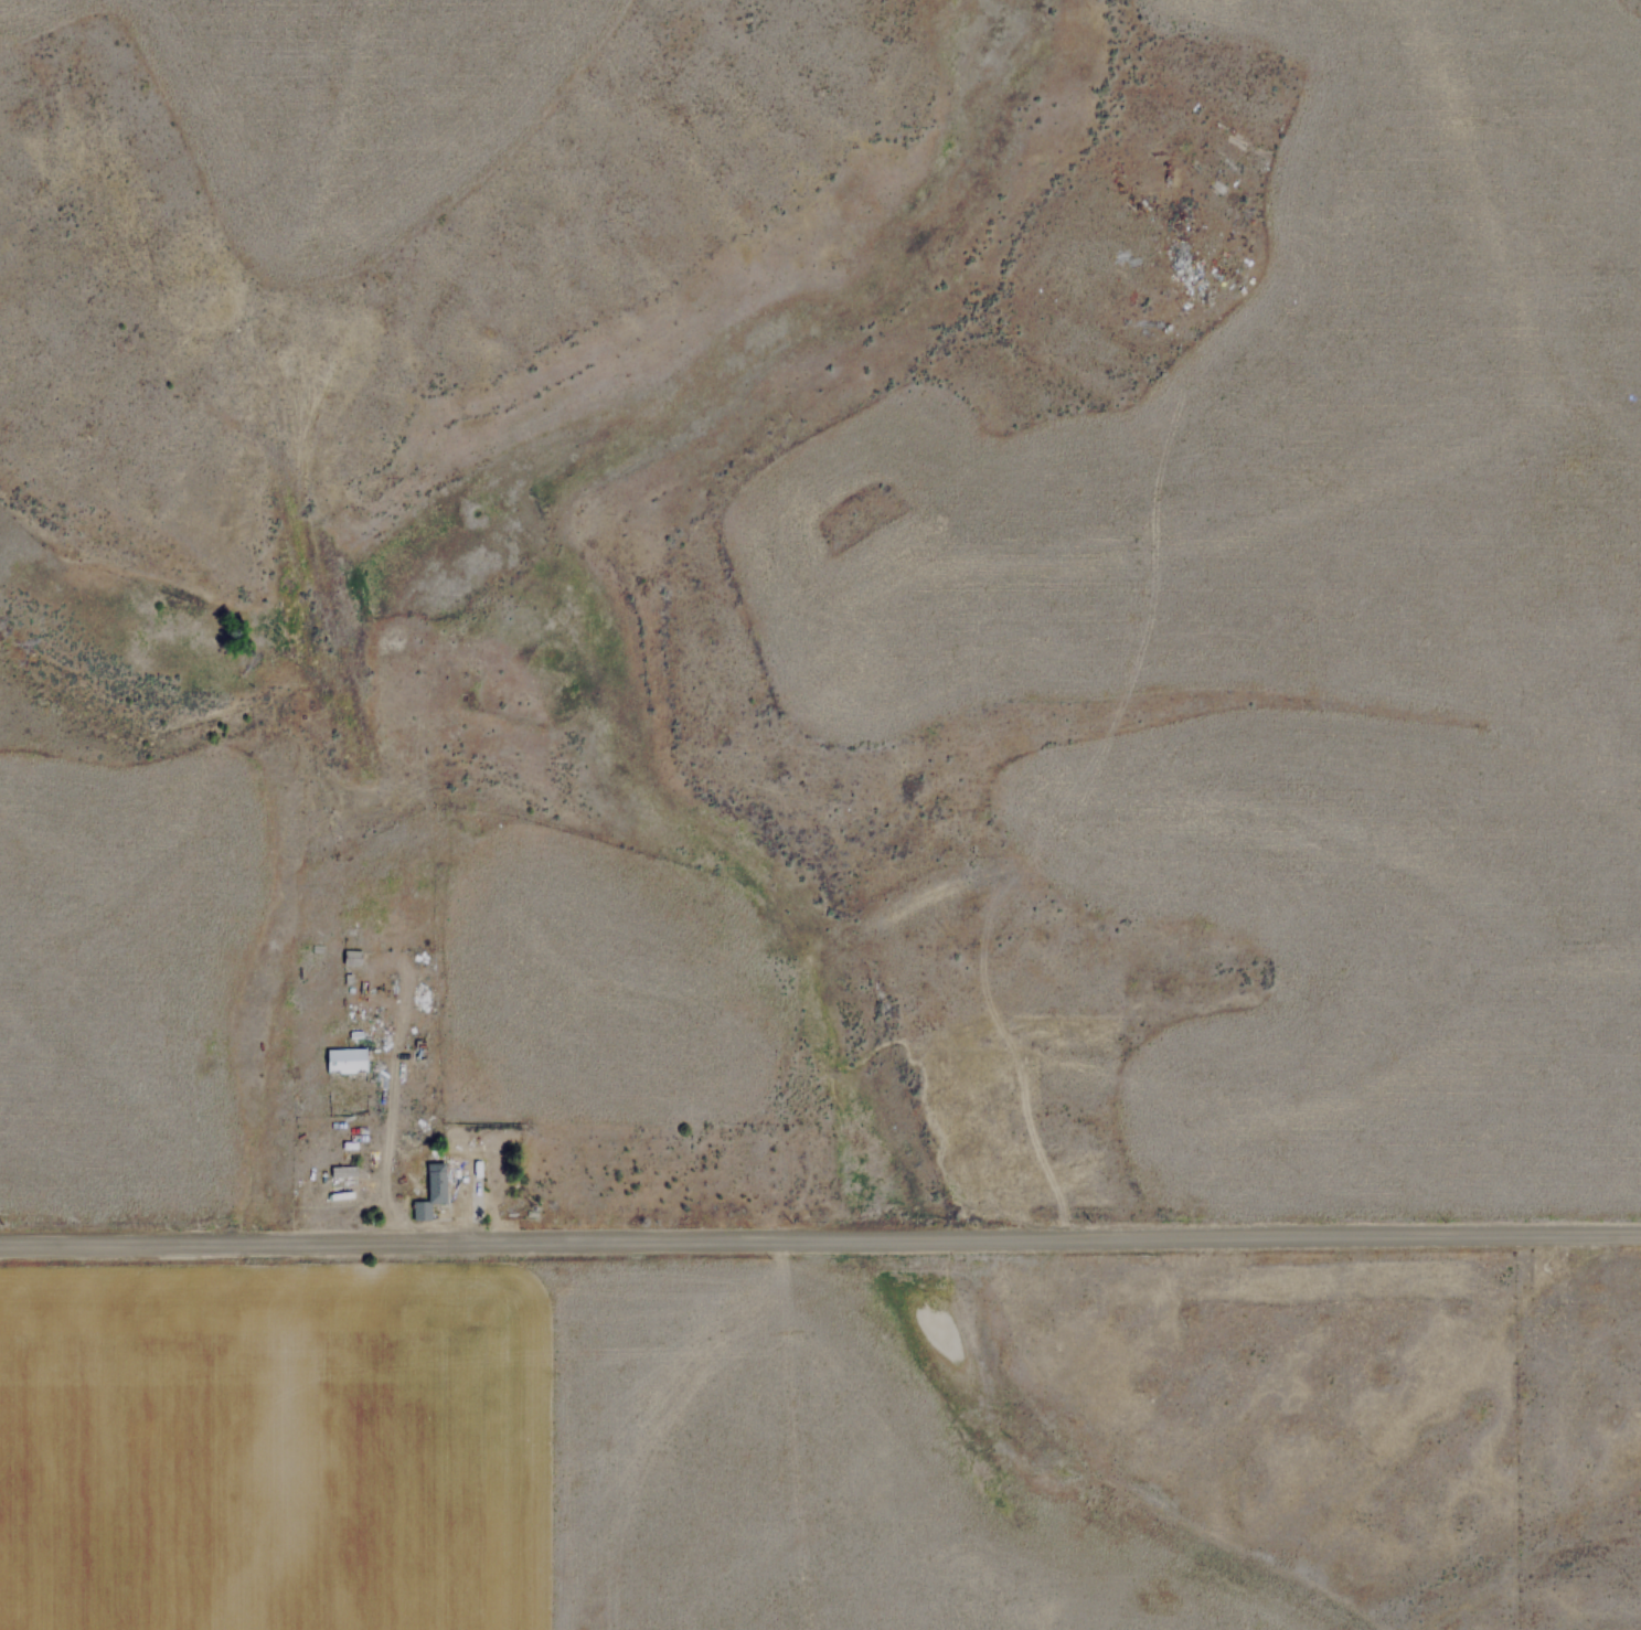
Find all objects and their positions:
dam: (328, 627)
building: (353, 962)
building: (347, 1063)
building: (344, 1174)
building: (431, 1193)
road: (820, 1242)
crop: (766, 1458)

